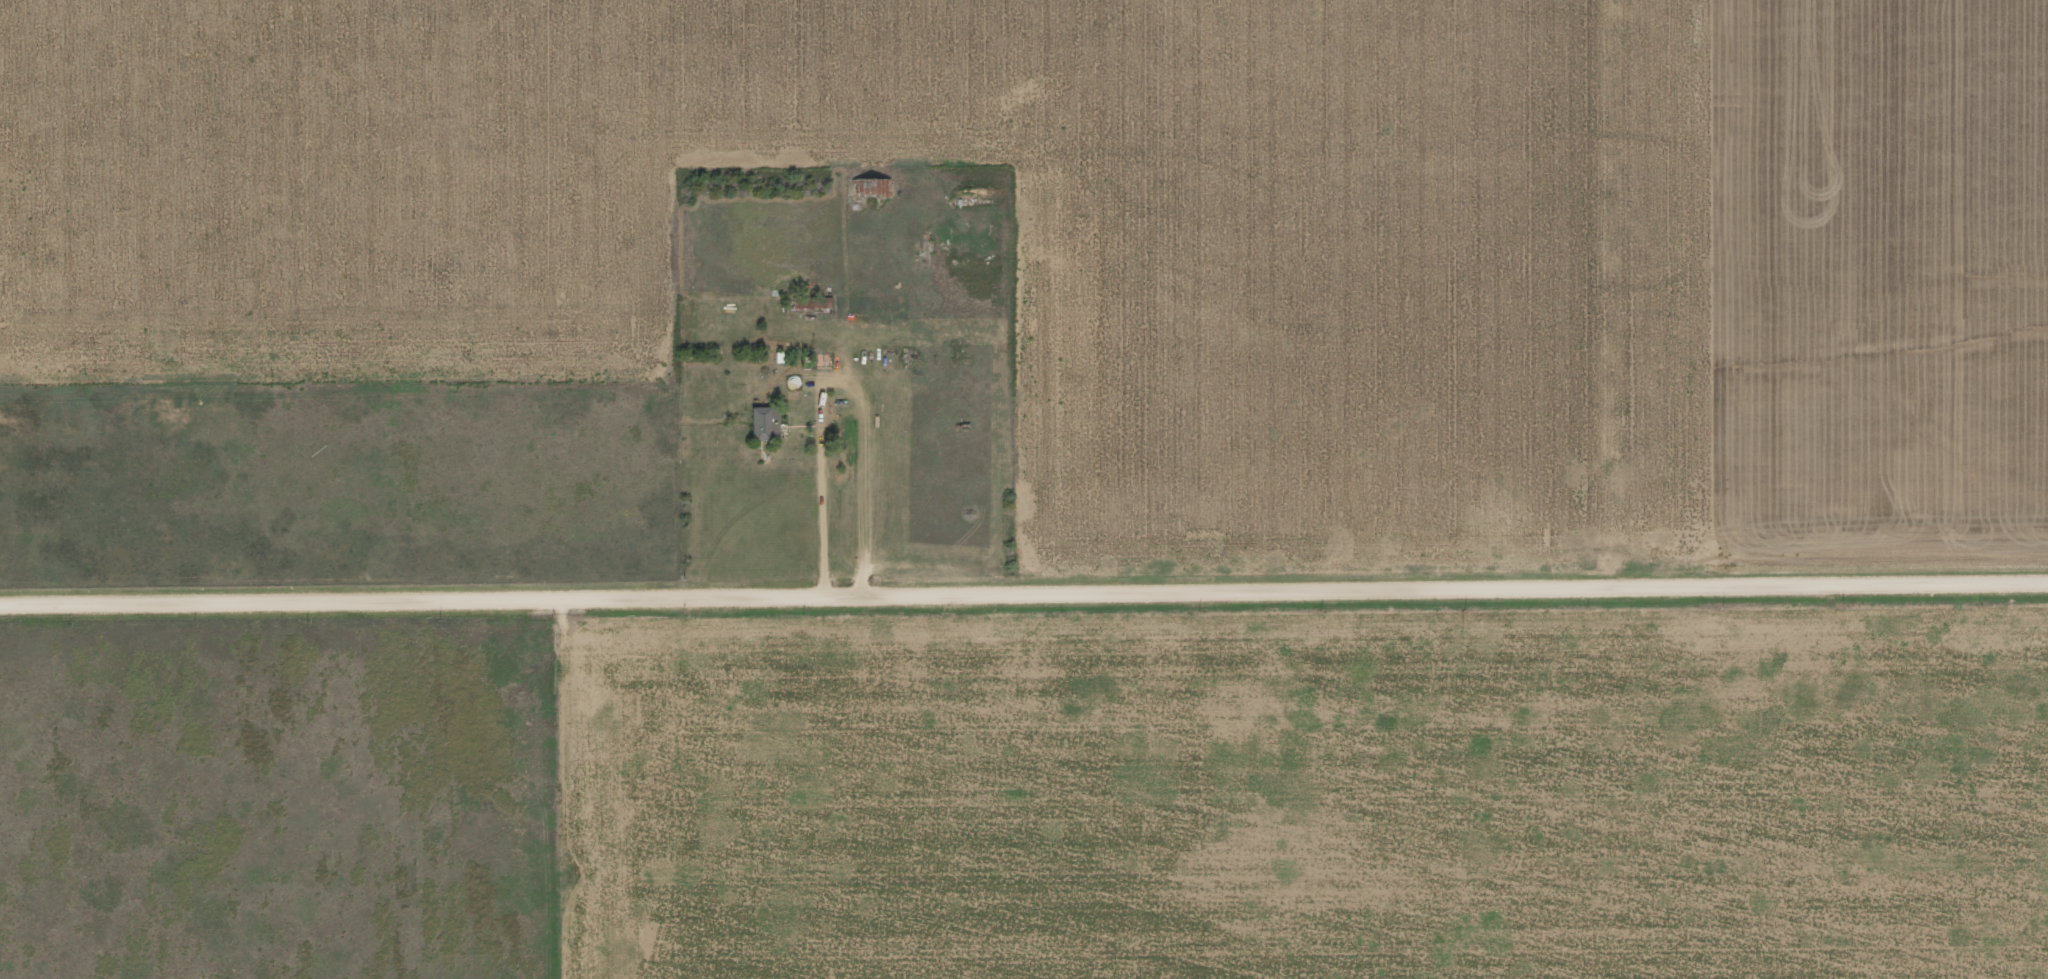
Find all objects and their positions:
crop: (1351, 263)
crop: (1869, 281)
building: (778, 351)
road: (836, 372)
building: (763, 417)
road: (1024, 589)

